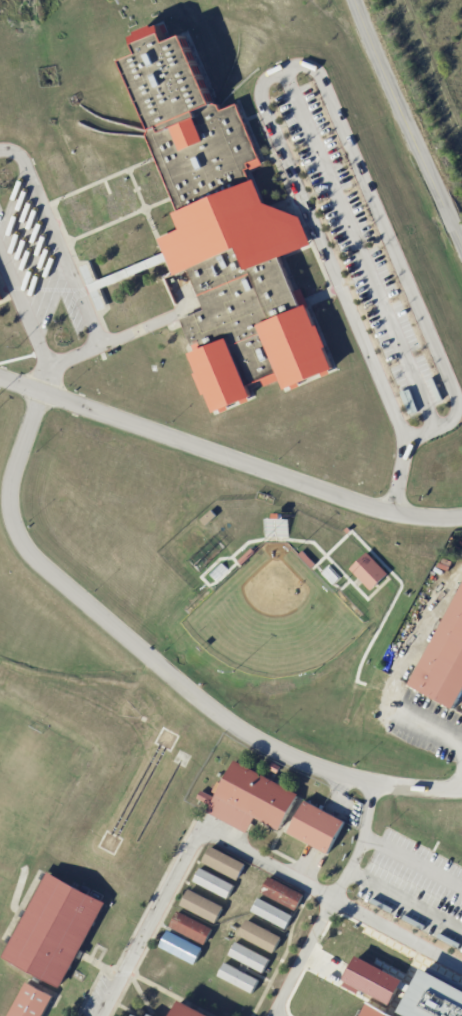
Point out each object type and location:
road: (305, 66)
road: (414, 116)
building: (229, 242)
parking lot: (356, 249)
road: (356, 249)
road: (65, 266)
parking lot: (38, 267)
building: (1, 296)
road: (24, 311)
road: (44, 379)
road: (228, 459)
road: (400, 479)
building: (283, 517)
building: (209, 518)
building: (275, 527)
building: (247, 557)
building: (307, 559)
building: (362, 571)
park: (271, 621)
road: (156, 667)
building: (446, 669)
road: (434, 730)
building: (278, 767)
building: (254, 804)
building: (419, 814)
building: (455, 828)
building: (320, 832)
building: (408, 835)
road: (368, 839)
road: (228, 846)
building: (450, 850)
building: (398, 853)
building: (224, 862)
road: (354, 869)
building: (387, 874)
building: (443, 877)
building: (213, 882)
parking lot: (413, 887)
building: (281, 893)
building: (377, 895)
building: (432, 898)
road: (342, 904)
building: (202, 905)
building: (271, 912)
building: (419, 921)
building: (191, 926)
road: (455, 928)
building: (259, 935)
building: (56, 936)
building: (181, 946)
building: (248, 956)
building: (237, 977)
building: (435, 1000)
building: (35, 1006)
building: (188, 1012)
building: (373, 1013)

